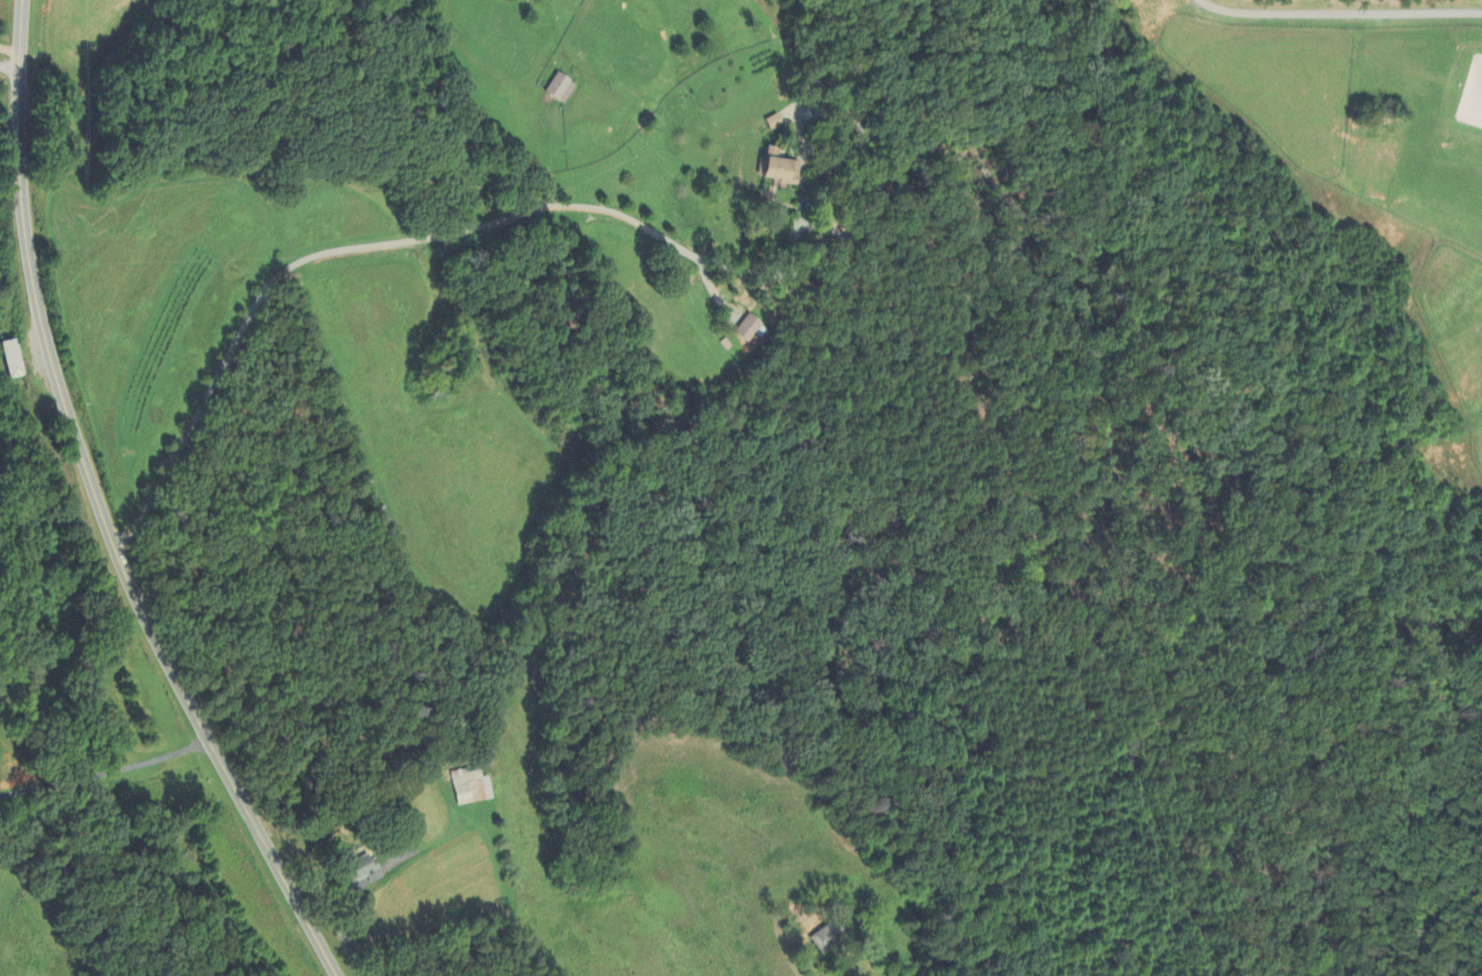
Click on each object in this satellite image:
road: (9, 55)
road: (9, 70)
building: (559, 89)
building: (773, 124)
building: (777, 169)
road: (411, 241)
building: (750, 329)
building: (10, 360)
road: (99, 511)
road: (105, 774)
building: (469, 787)
building: (360, 871)
building: (822, 938)

